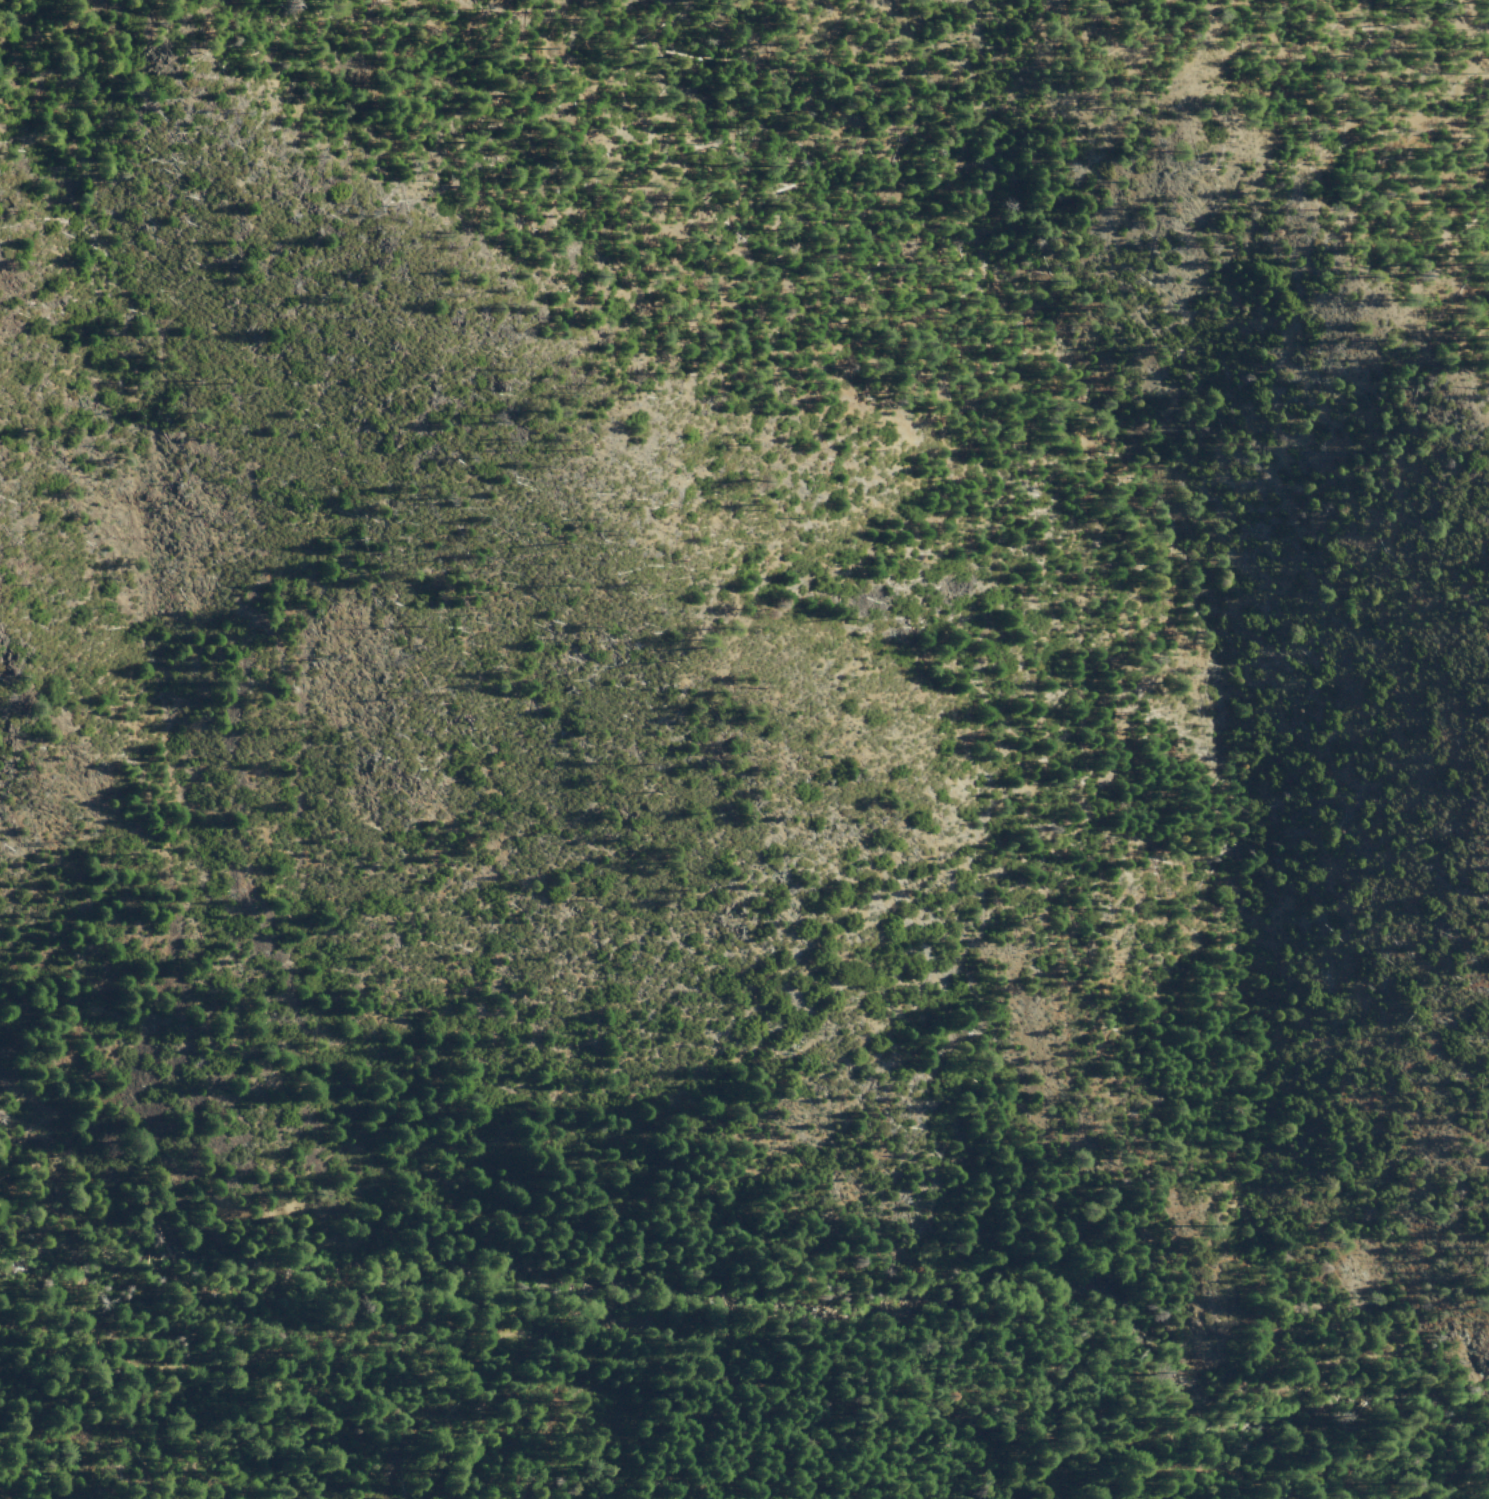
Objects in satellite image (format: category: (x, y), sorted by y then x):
road: (514, 1319)
road: (1199, 1465)

